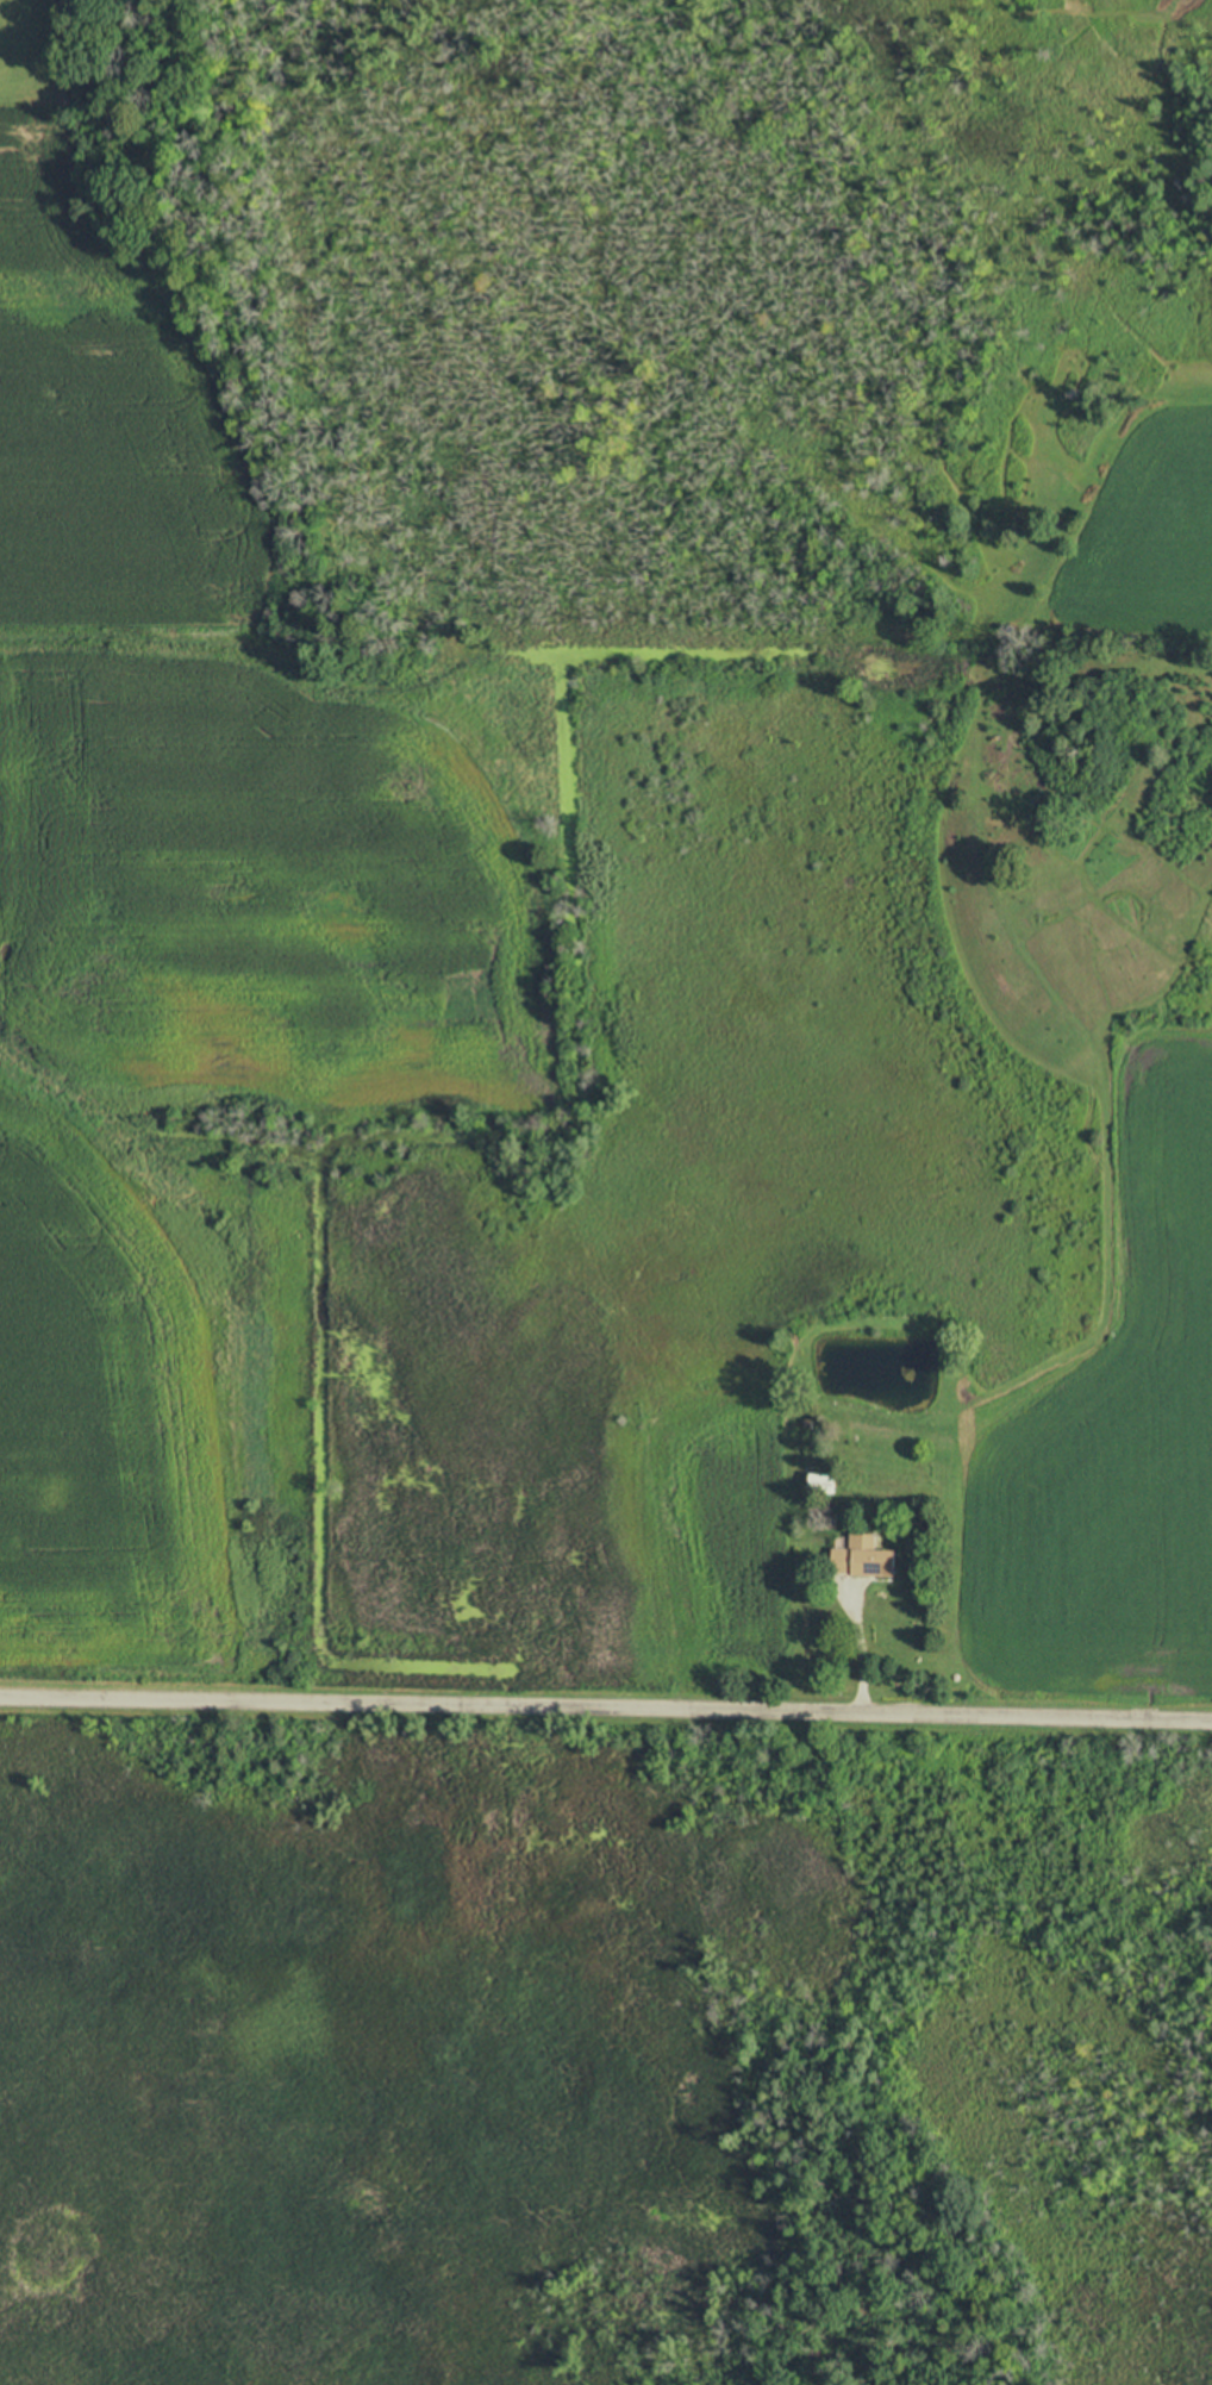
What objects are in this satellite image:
road: (860, 1654)
road: (606, 1710)

